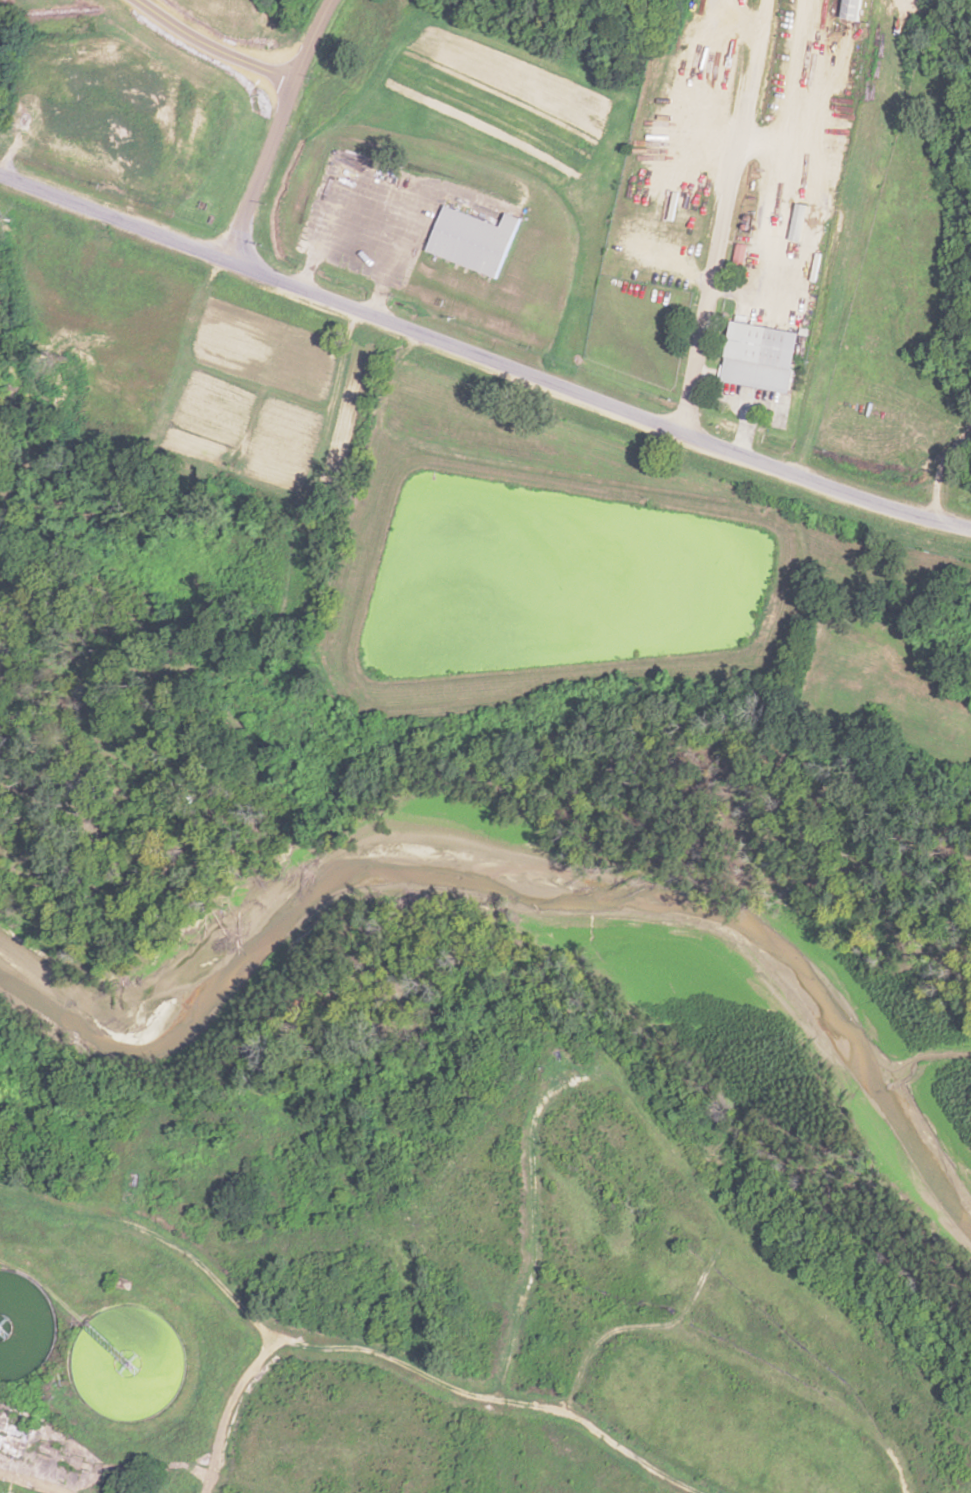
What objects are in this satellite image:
building: (847, 9)
road: (211, 47)
road: (272, 128)
building: (471, 240)
building: (757, 356)
road: (483, 358)
building: (344, 714)
river: (494, 817)
building: (2, 1277)
building: (1, 1297)
building: (10, 1338)
road: (305, 1343)
road: (232, 1407)

